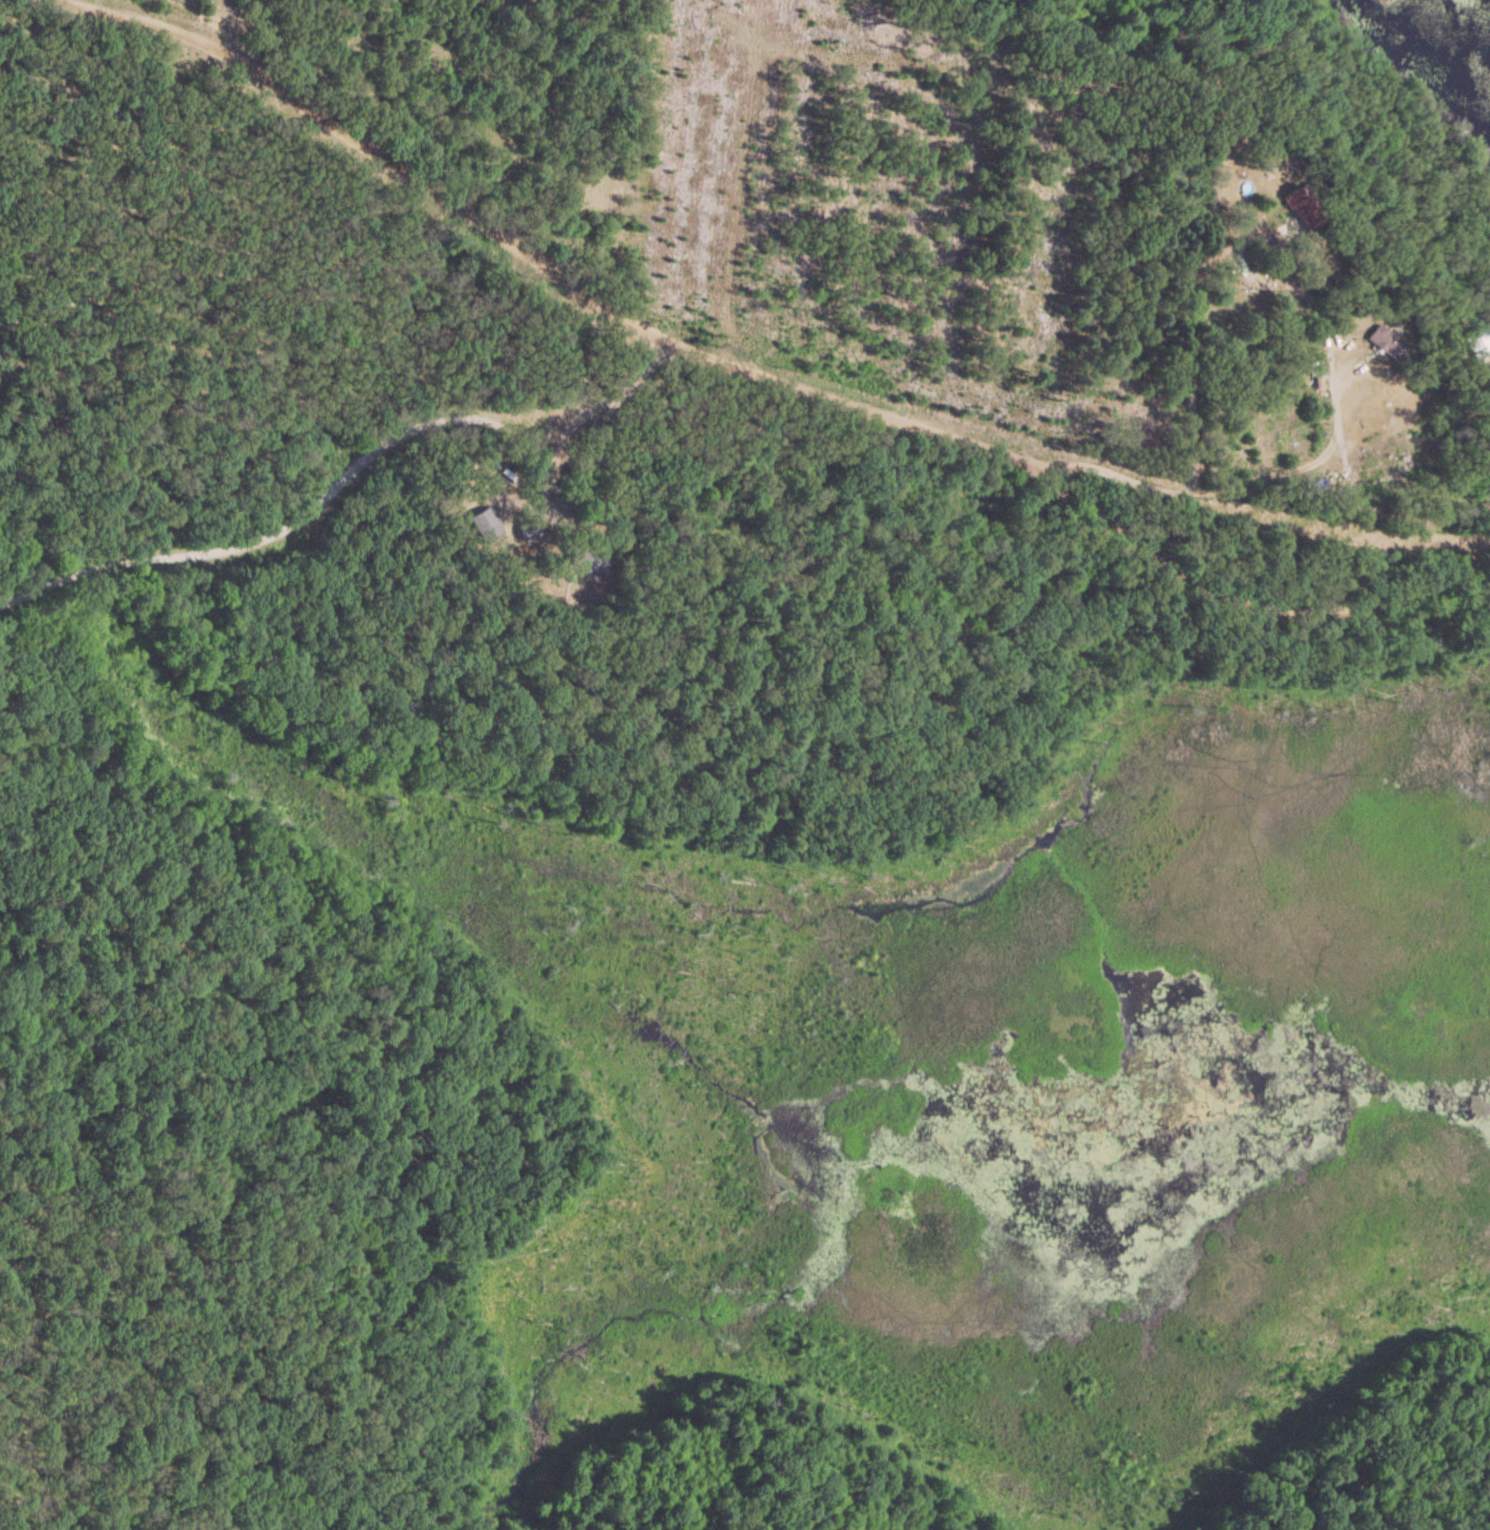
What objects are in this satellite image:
building: (1301, 208)
building: (1387, 342)
road: (790, 368)
road: (1337, 441)
road: (328, 458)
building: (1391, 479)
building: (484, 525)
building: (524, 529)
building: (586, 562)

